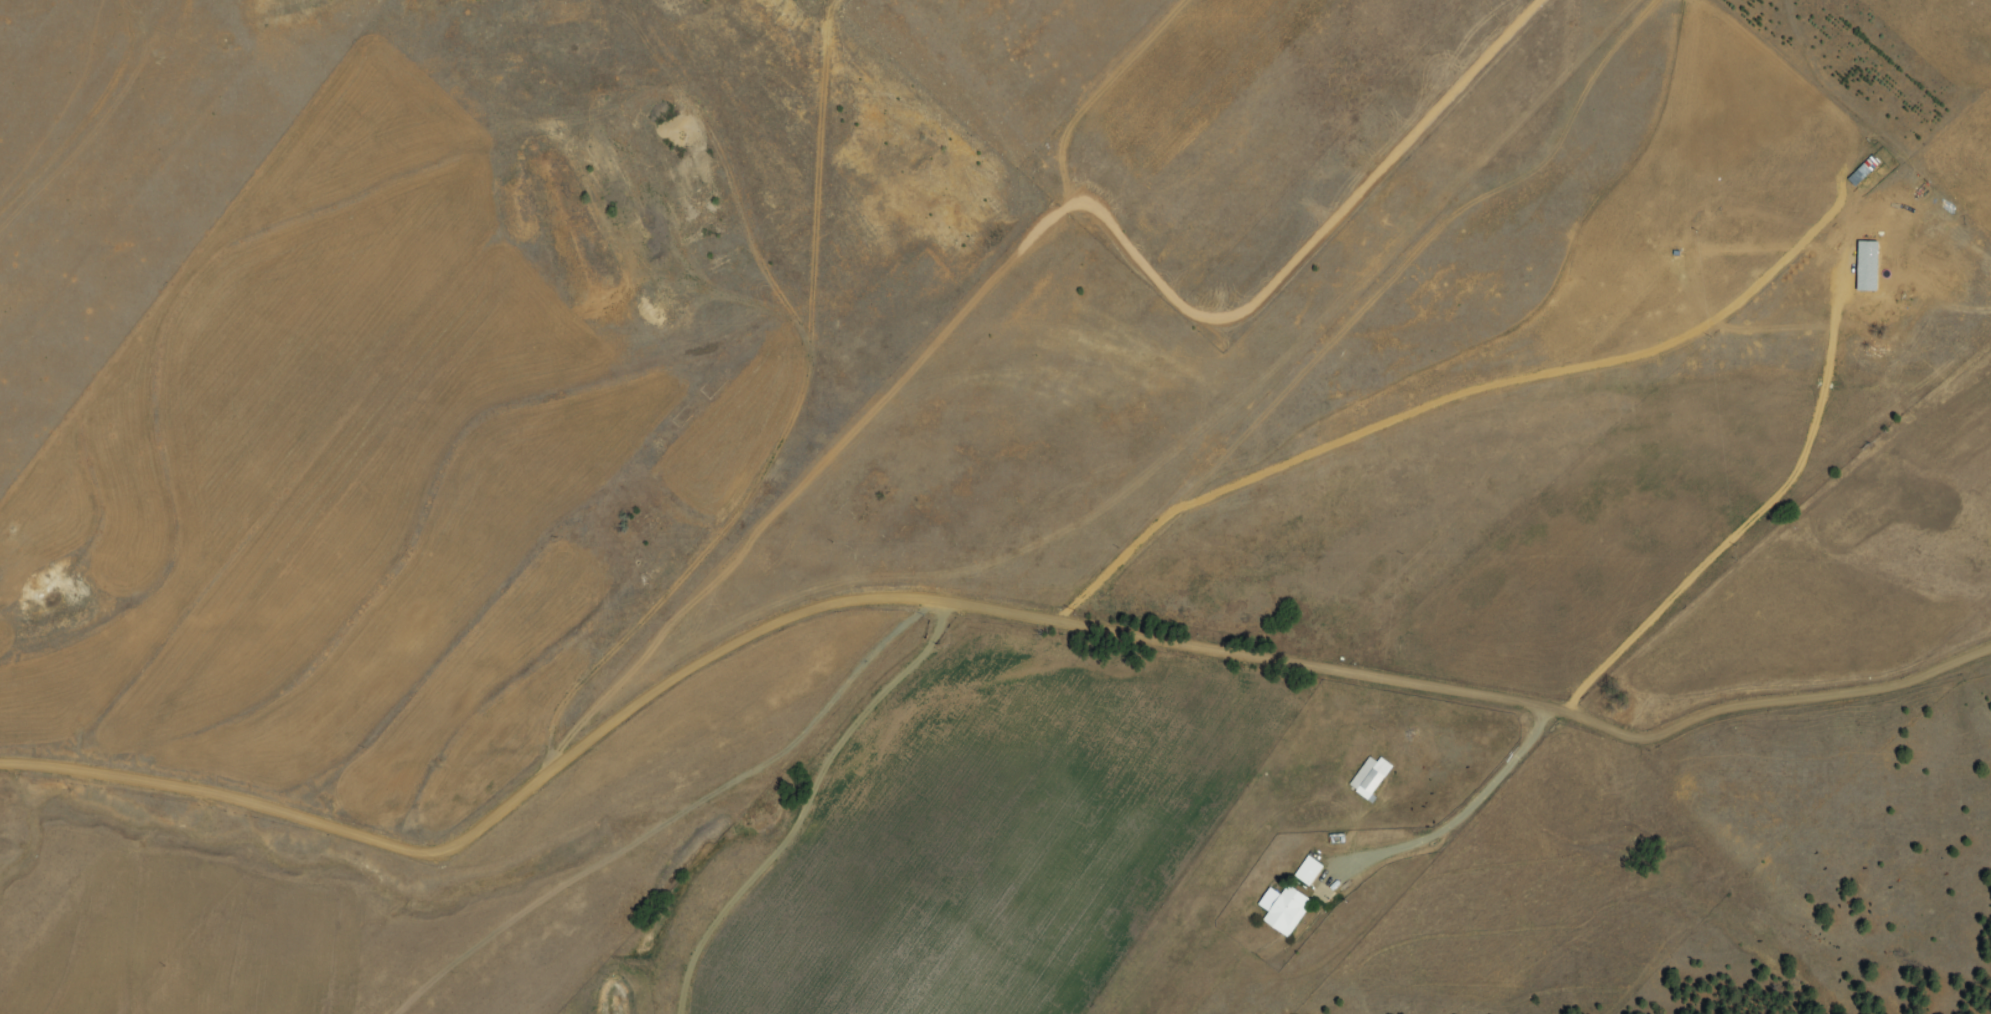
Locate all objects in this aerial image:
road: (963, 597)
building: (1369, 777)
building: (1290, 899)

